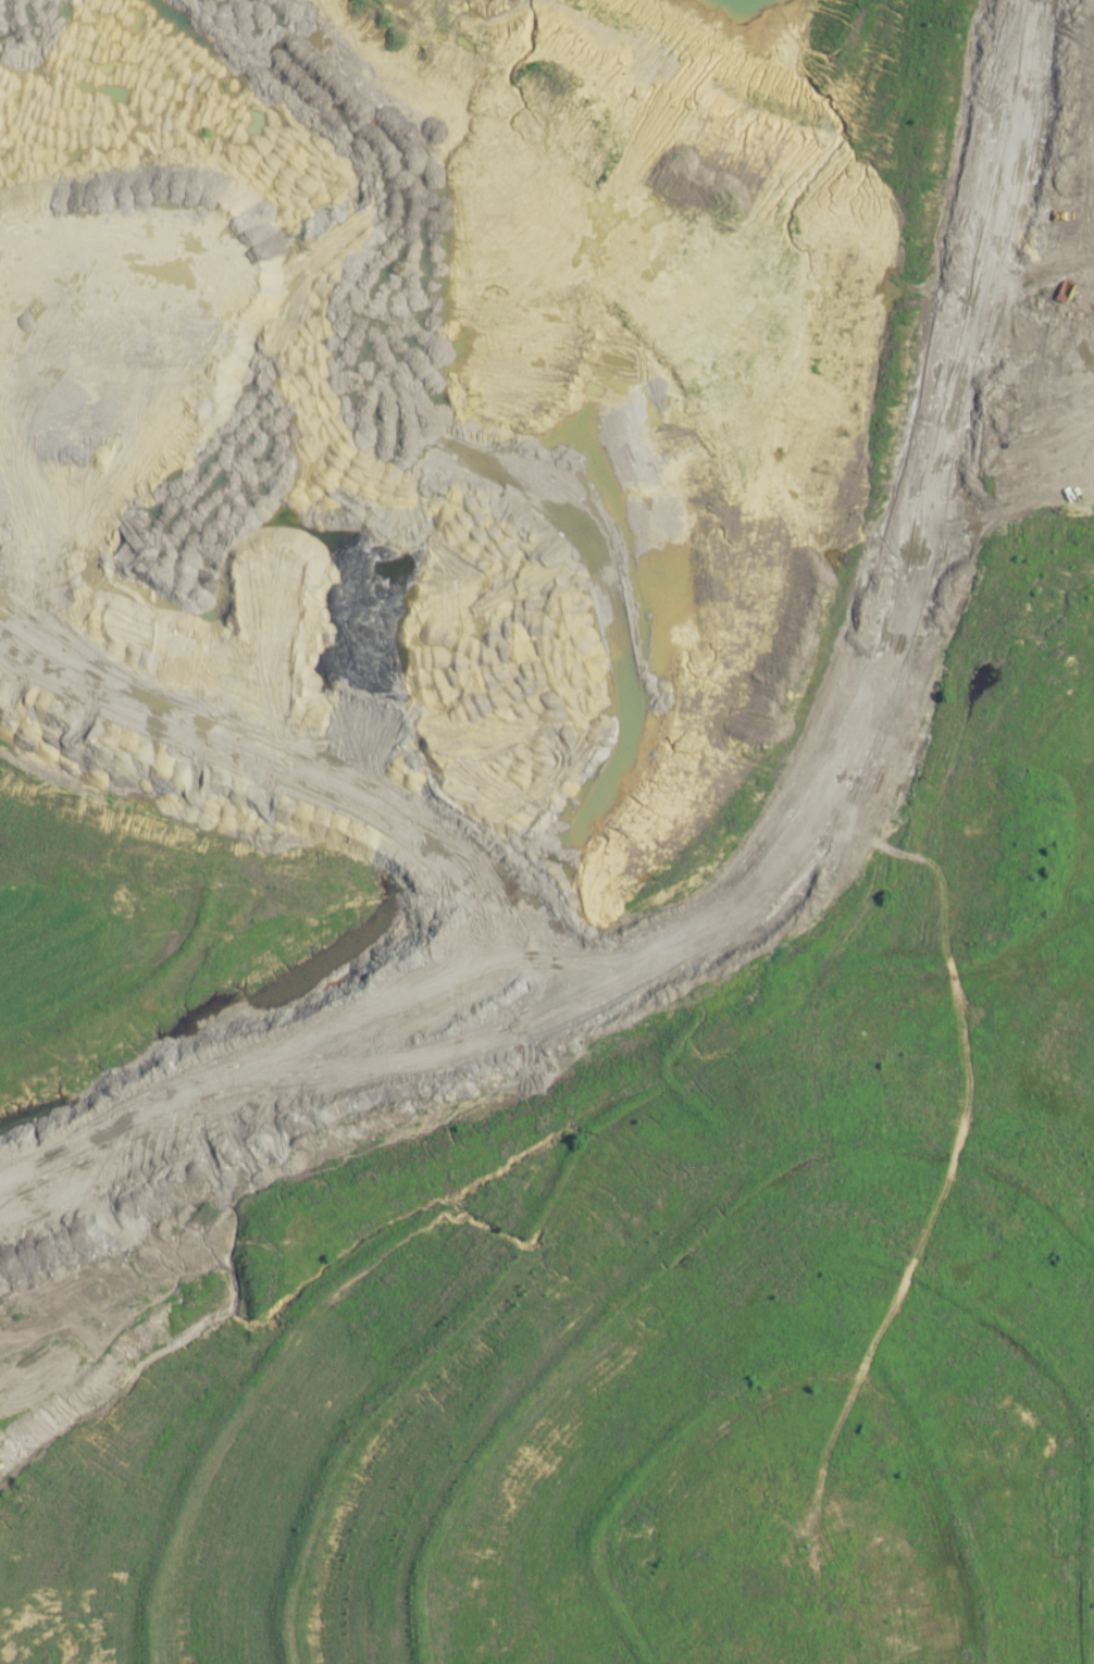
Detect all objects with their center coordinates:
road: (861, 598)
quarry: (638, 980)

